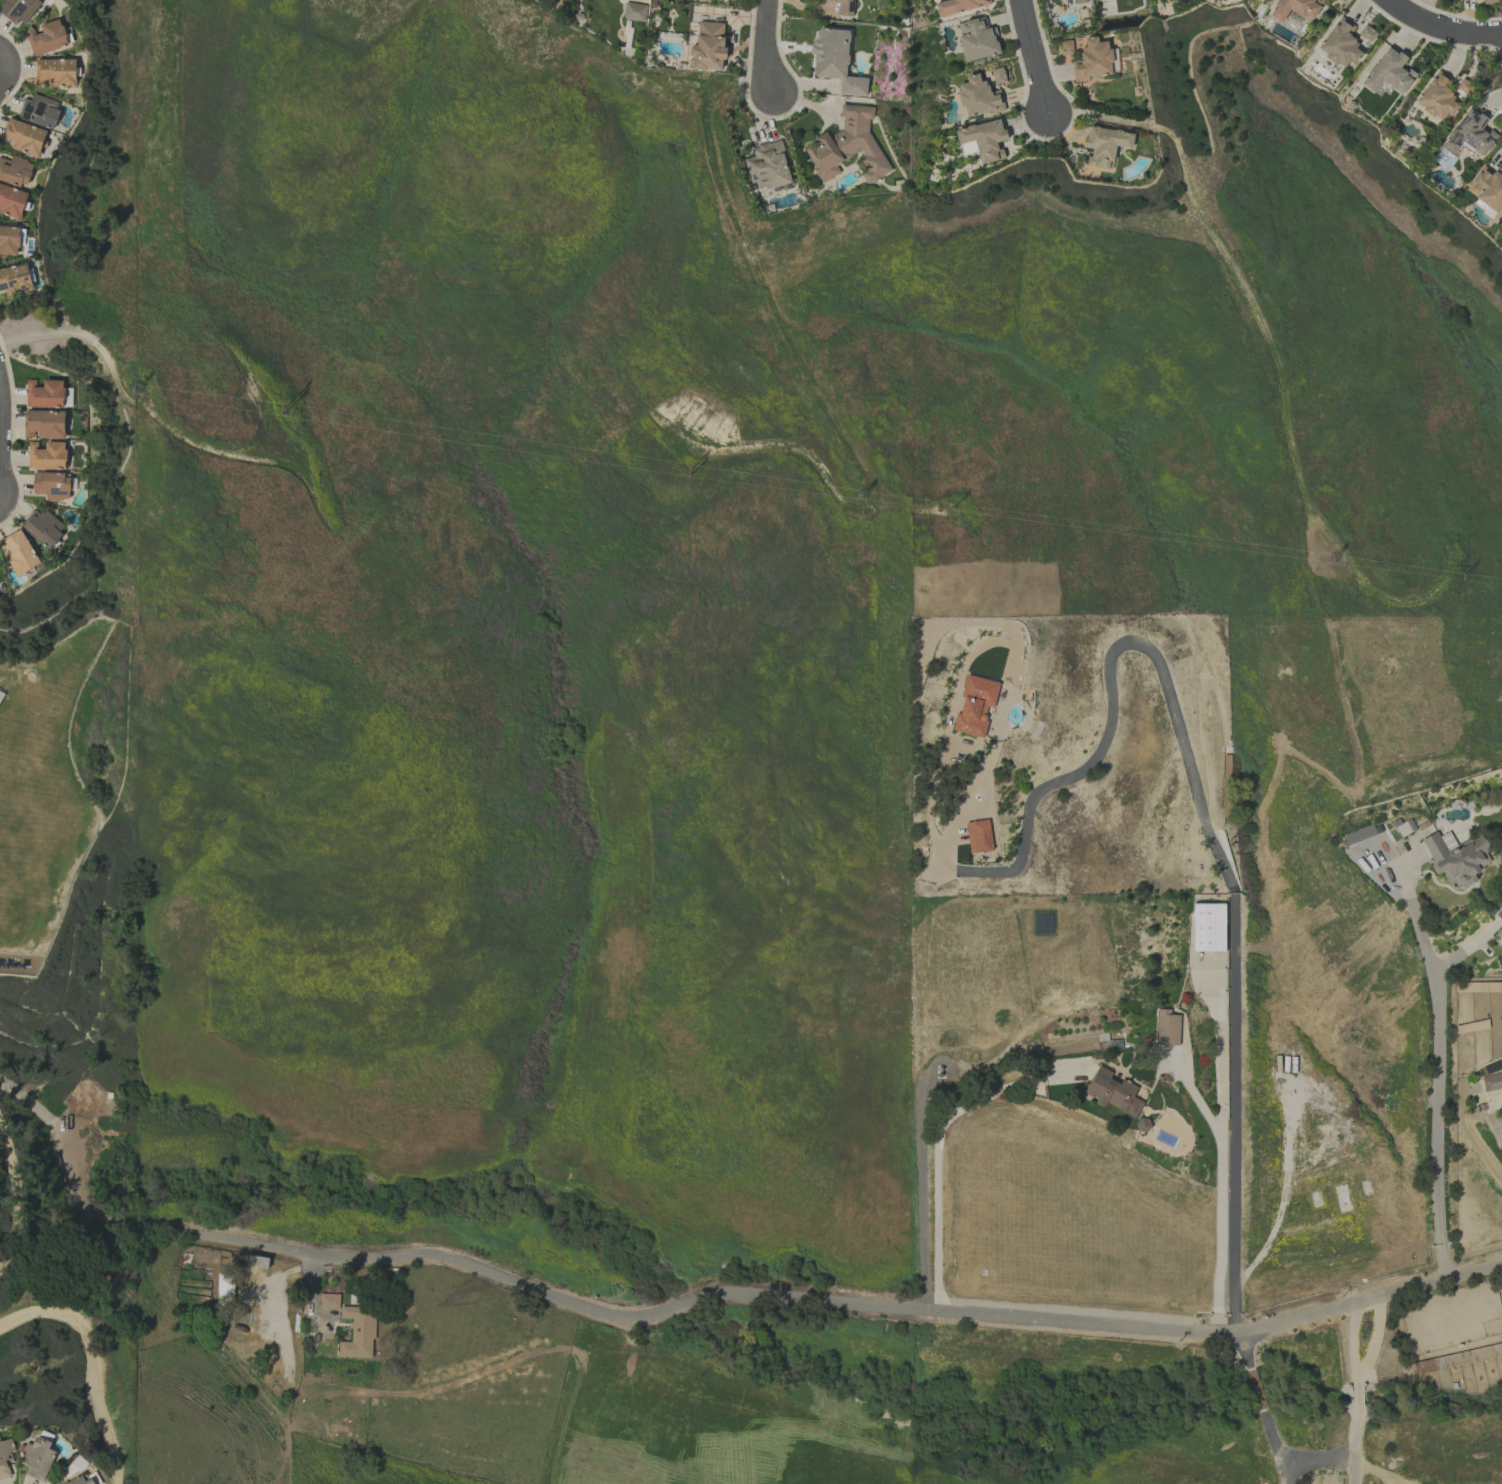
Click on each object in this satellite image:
building: (1078, 1)
building: (1489, 1)
rooftop solar panel: (852, 6)
building: (958, 6)
building: (845, 7)
building: (1296, 8)
building: (20, 10)
building: (634, 11)
road: (1441, 27)
building: (1367, 33)
building: (47, 37)
building: (977, 39)
road: (771, 43)
building: (1340, 43)
building: (708, 46)
building: (1066, 47)
road: (1034, 56)
road: (3, 60)
building: (836, 60)
building: (1093, 60)
building: (55, 72)
building: (1389, 72)
road: (3, 74)
building: (998, 75)
building: (1383, 89)
building: (978, 97)
building: (1437, 97)
rooftop solar panel: (30, 107)
rooftop solar panel: (42, 107)
building: (39, 111)
rooftop solar panel: (27, 115)
rooftop solar panel: (1476, 116)
rooftop solar panel: (38, 117)
rooftop solar panel: (49, 120)
rooftop solar panel: (1478, 132)
building: (1469, 134)
building: (25, 137)
rooftop solar panel: (1488, 138)
building: (983, 140)
rooftop solar panel: (1470, 142)
building: (1105, 145)
building: (849, 147)
building: (768, 166)
building: (15, 171)
building: (1487, 188)
building: (12, 201)
building: (9, 240)
rooftop solar panel: (28, 278)
building: (15, 279)
rooftop solar panel: (16, 281)
rooftop solar panel: (24, 285)
rooftop solar panel: (1, 286)
rooftop solar panel: (30, 290)
power tower: (141, 387)
building: (44, 394)
building: (67, 397)
building: (44, 424)
road: (1, 447)
building: (47, 455)
building: (52, 485)
power tower: (869, 493)
building: (44, 528)
building: (18, 552)
power tower: (1331, 563)
building: (975, 705)
road: (1184, 751)
building: (1359, 834)
building: (978, 836)
building: (1456, 857)
building: (1499, 913)
rooftop solar panel: (1046, 925)
building: (1209, 927)
building: (1499, 936)
building: (1167, 1028)
rooftop solar panel: (1497, 1066)
road: (1438, 1067)
building: (1492, 1082)
road: (928, 1086)
building: (1113, 1092)
road: (60, 1150)
road: (13, 1201)
road: (806, 1298)
building: (329, 1301)
building: (358, 1332)
road: (1376, 1339)
road: (1353, 1340)
road: (1246, 1352)
road: (93, 1362)
building: (1425, 1366)
road: (1260, 1392)
road: (1356, 1431)
road: (1279, 1441)
building: (5, 1458)
building: (38, 1458)
road: (1315, 1461)
building: (80, 1480)

